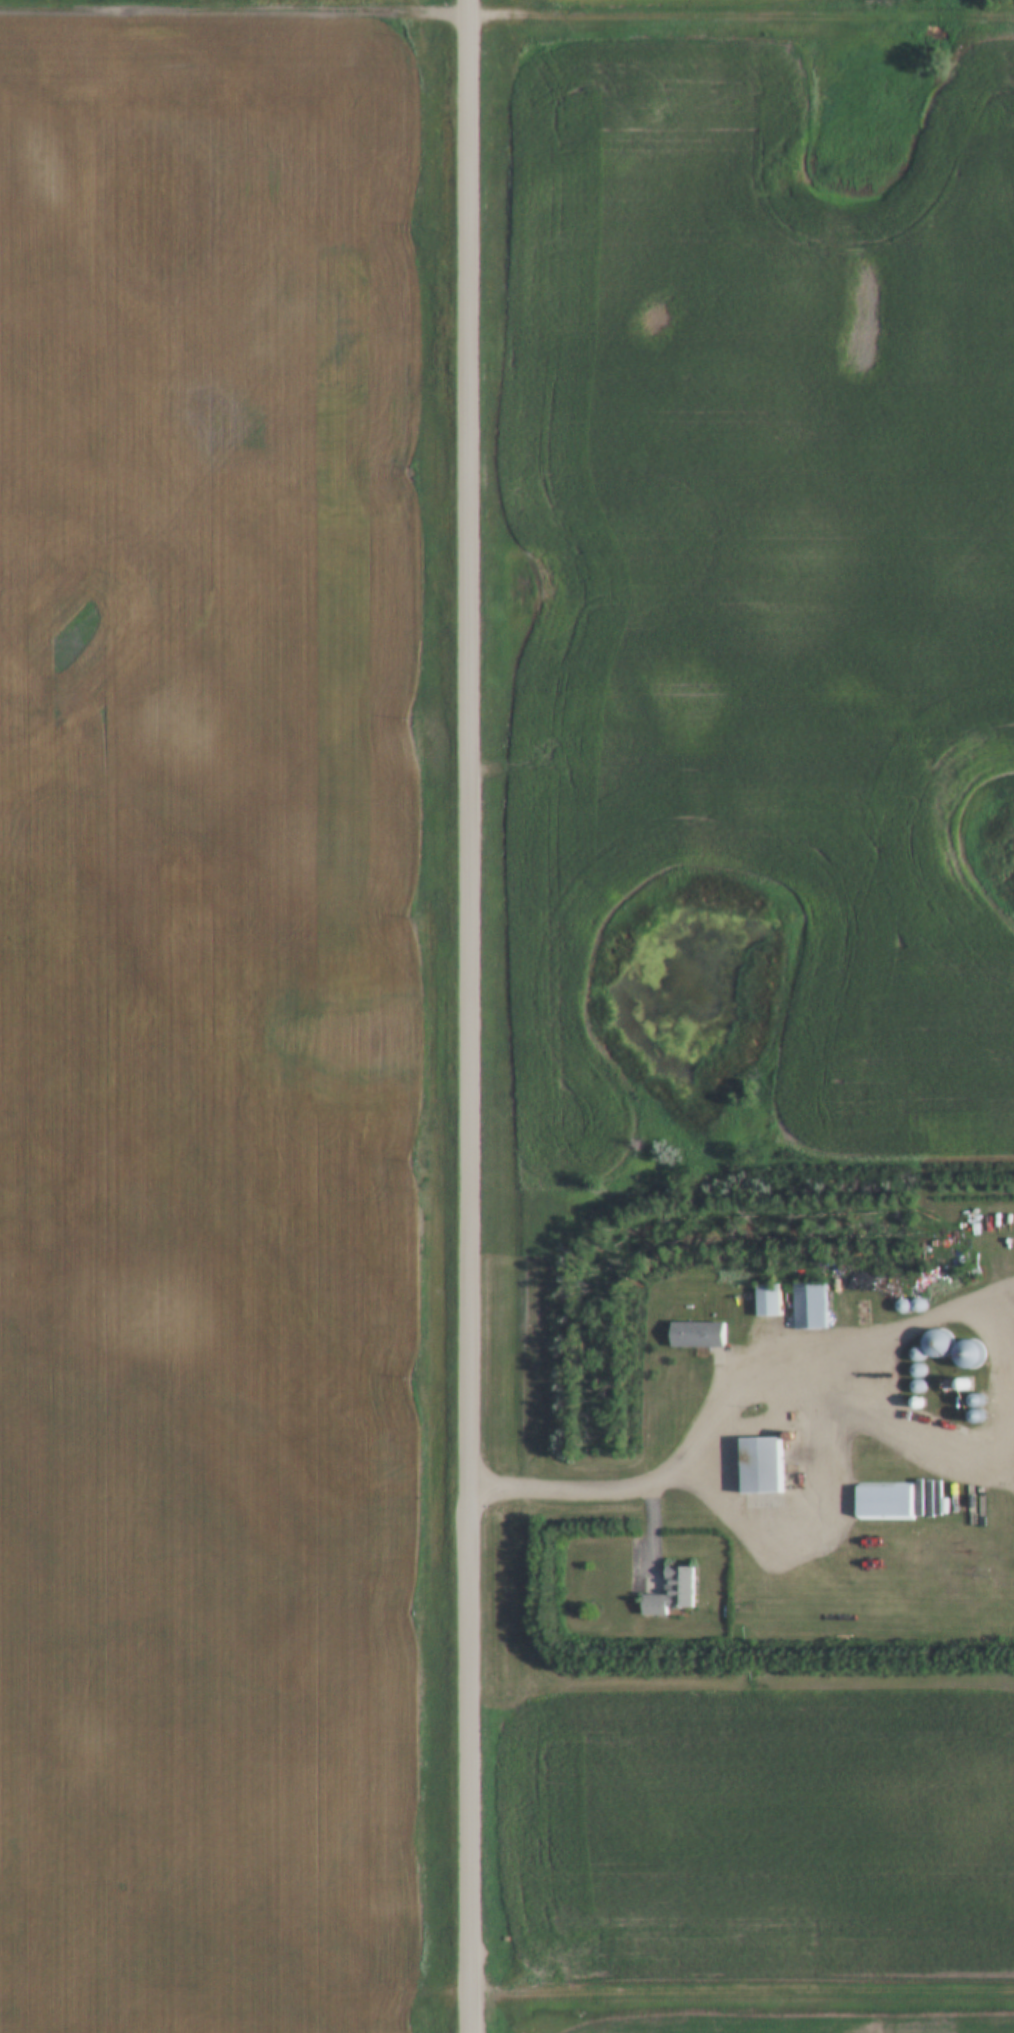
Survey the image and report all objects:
road: (506, 12)
road: (470, 1016)
building: (767, 1300)
building: (809, 1306)
building: (697, 1335)
road: (768, 1374)
road: (1008, 1374)
building: (759, 1466)
building: (873, 1504)
building: (672, 1594)
road: (743, 1989)

